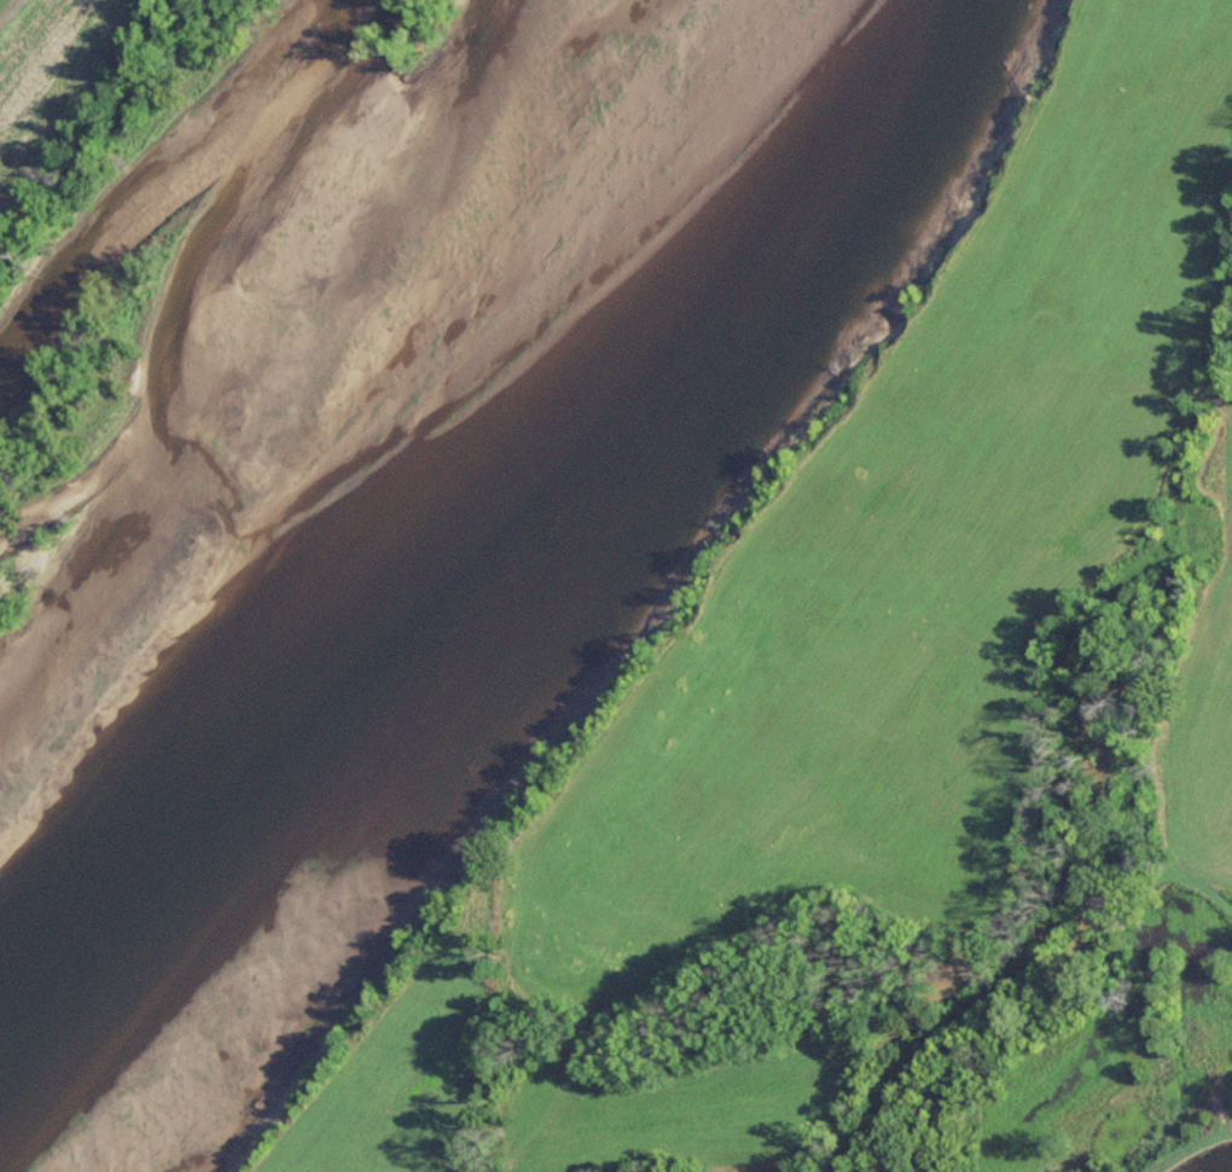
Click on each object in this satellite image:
river: (483, 575)

